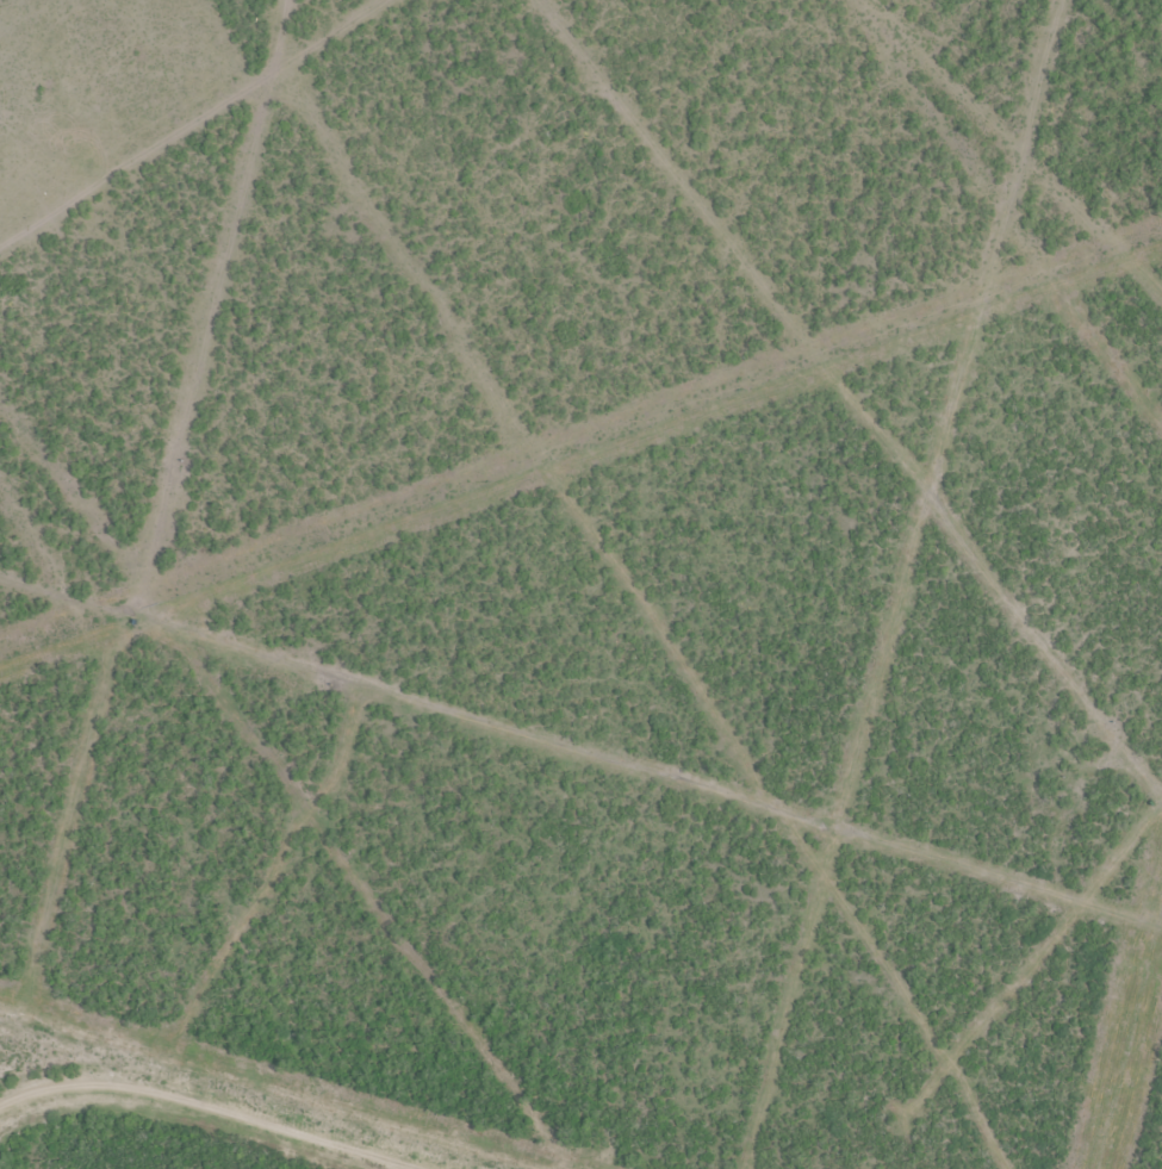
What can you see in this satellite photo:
road: (175, 1119)

